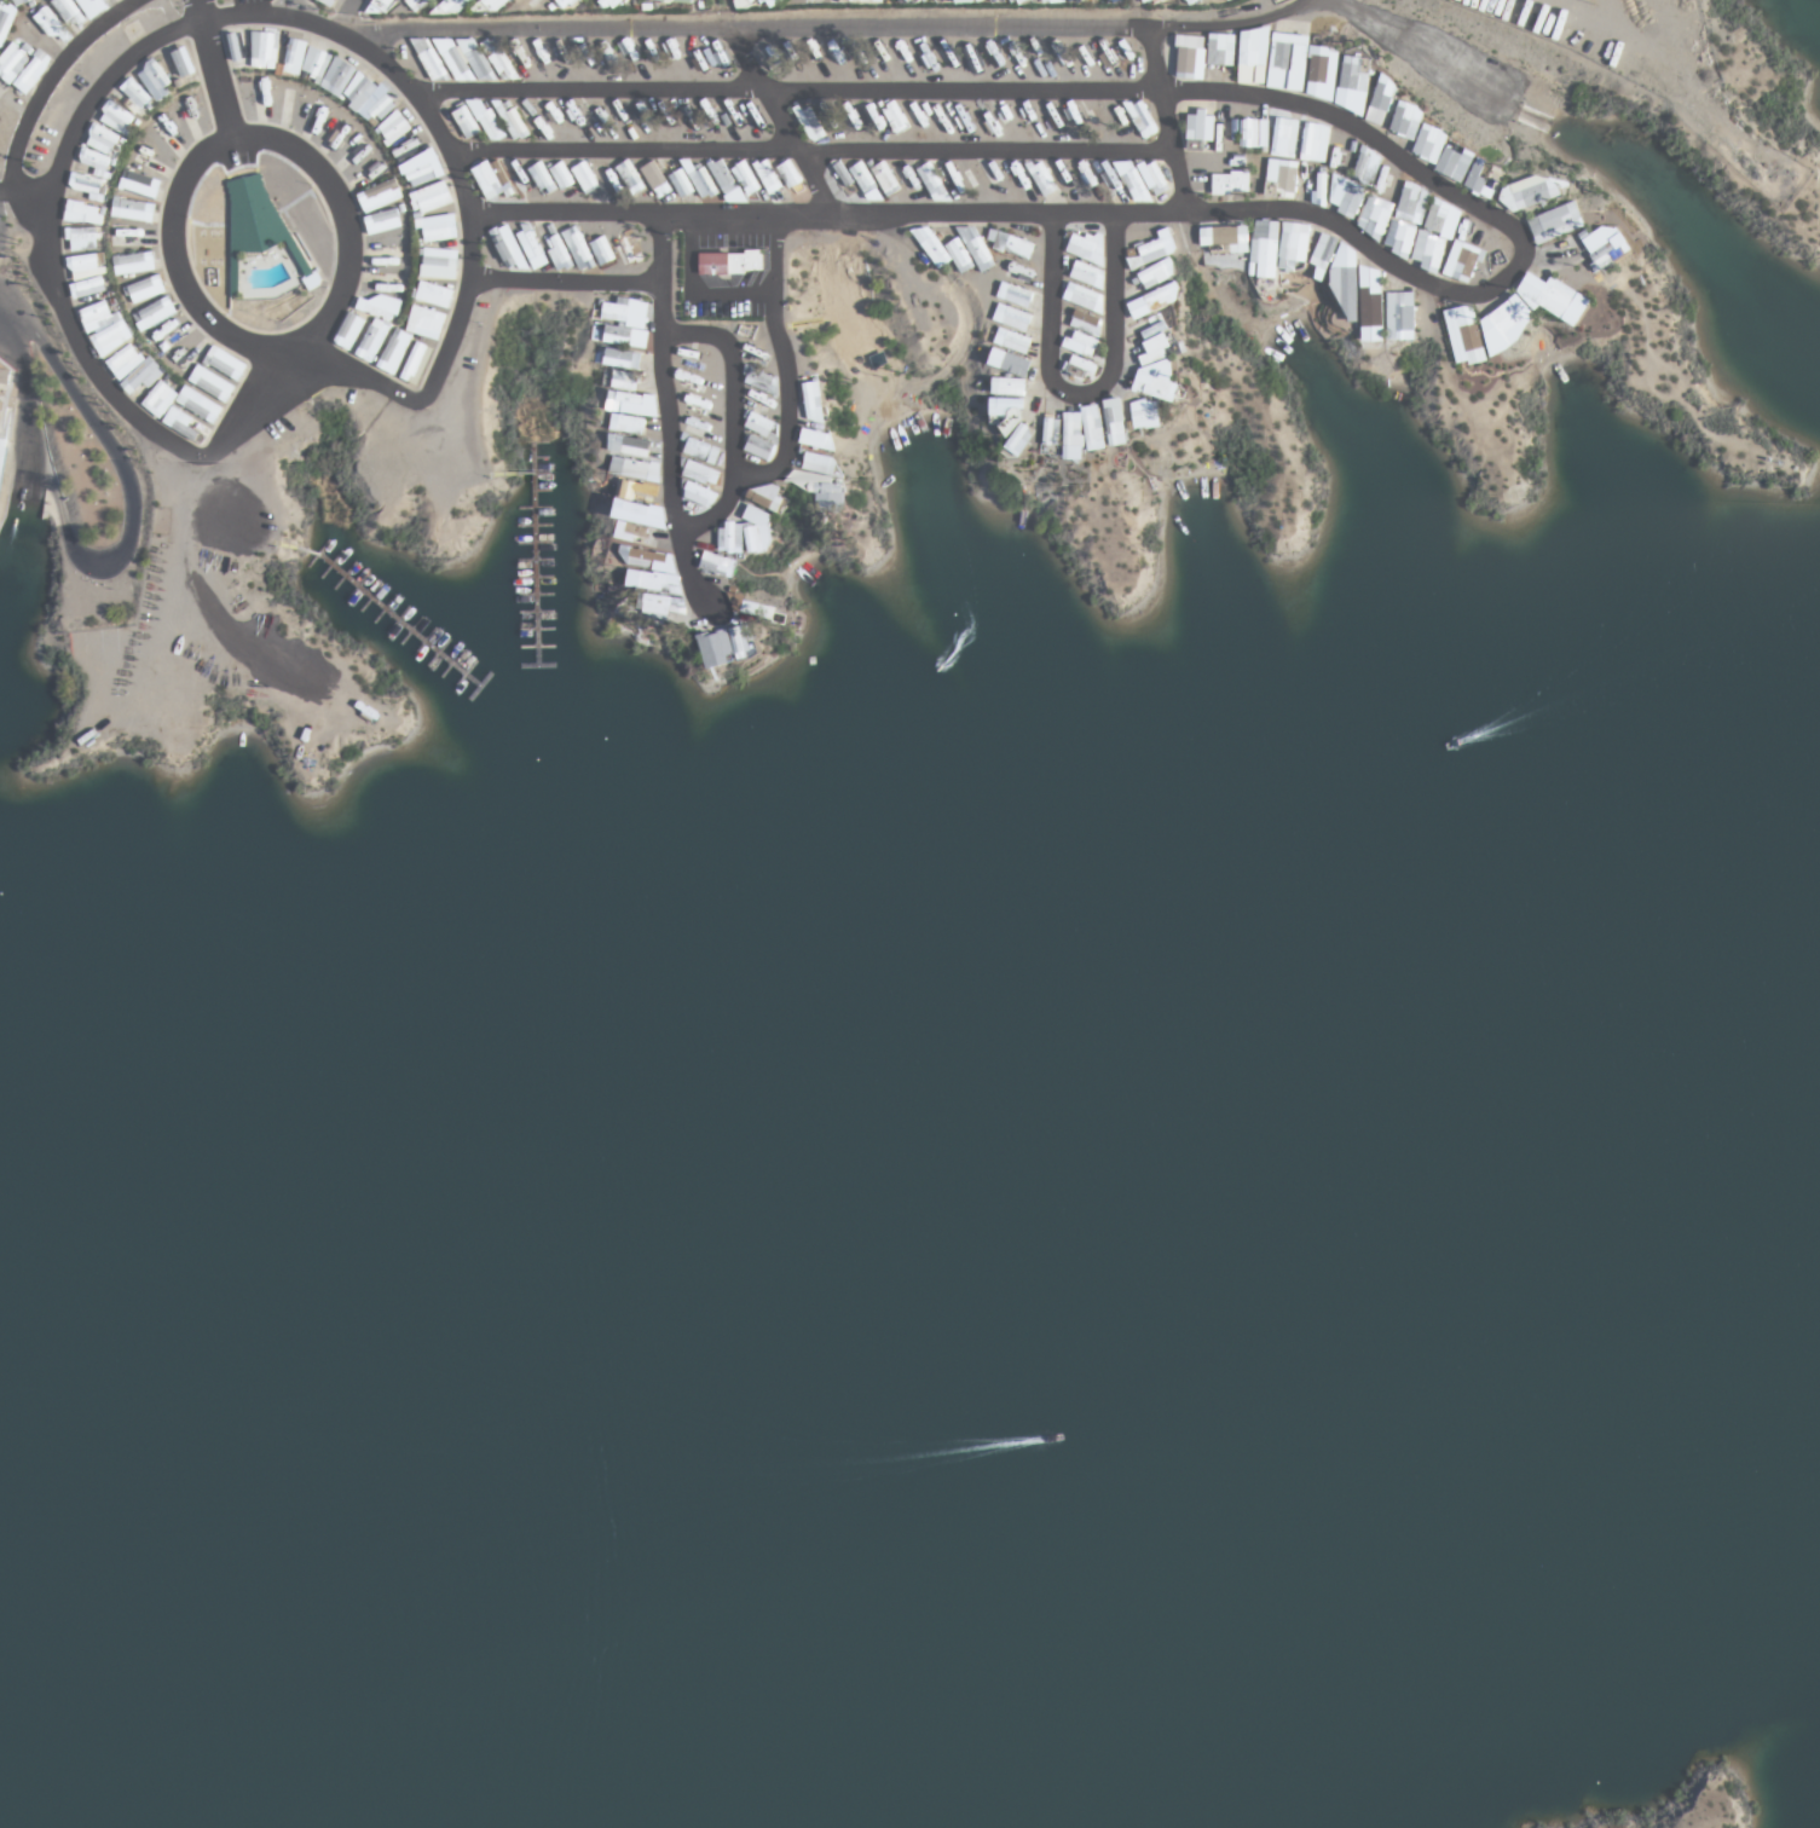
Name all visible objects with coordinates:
road: (201, 10)
road: (343, 17)
road: (200, 19)
road: (1226, 27)
road: (836, 28)
building: (1220, 50)
road: (1420, 56)
building: (1189, 57)
building: (1252, 57)
building: (1287, 62)
building: (1322, 73)
parking lot: (1452, 74)
building: (1353, 75)
road: (218, 79)
road: (786, 89)
road: (40, 96)
building: (1380, 100)
building: (1052, 115)
building: (895, 117)
building: (1142, 118)
building: (486, 120)
road: (781, 120)
building: (1405, 120)
building: (466, 122)
building: (809, 122)
building: (515, 125)
road: (1552, 126)
building: (1200, 127)
building: (393, 128)
building: (1254, 133)
building: (1284, 137)
building: (1315, 143)
road: (810, 150)
building: (1441, 154)
building: (1365, 166)
building: (93, 175)
building: (421, 175)
building: (562, 175)
building: (491, 177)
building: (608, 177)
building: (723, 177)
building: (767, 177)
building: (585, 178)
building: (630, 178)
building: (746, 178)
building: (885, 178)
building: (1281, 178)
building: (1483, 178)
building: (542, 179)
building: (655, 179)
building: (843, 179)
building: (1109, 179)
building: (866, 181)
building: (1143, 181)
building: (701, 183)
building: (932, 183)
building: (1231, 183)
building: (139, 184)
building: (681, 184)
building: (1321, 185)
road: (6, 191)
building: (1532, 192)
building: (377, 195)
building: (1346, 196)
building: (429, 198)
road: (342, 208)
building: (132, 209)
building: (82, 213)
road: (825, 213)
building: (1374, 216)
building: (382, 221)
building: (1555, 222)
building: (437, 227)
building: (258, 228)
building: (1421, 228)
road: (1519, 235)
building: (131, 236)
building: (1224, 237)
building: (81, 238)
building: (1011, 242)
building: (1605, 245)
building: (531, 247)
building: (629, 247)
building: (1086, 247)
building: (1264, 247)
building: (1294, 247)
building: (509, 248)
building: (578, 248)
building: (976, 248)
building: (1154, 249)
building: (601, 250)
building: (942, 250)
building: (1324, 250)
building: (556, 251)
road: (173, 258)
building: (1461, 261)
building: (133, 262)
building: (439, 264)
building: (730, 264)
building: (86, 265)
road: (295, 272)
building: (1156, 273)
building: (1087, 274)
road: (564, 279)
building: (1346, 280)
building: (91, 287)
building: (144, 289)
building: (1015, 294)
building: (432, 296)
building: (1084, 297)
building: (1154, 300)
building: (1370, 305)
building: (377, 308)
building: (617, 310)
building: (154, 313)
building: (1400, 316)
building: (1011, 317)
building: (1509, 318)
building: (1085, 322)
building: (424, 324)
building: (105, 328)
building: (348, 332)
building: (625, 336)
building: (1157, 337)
building: (372, 341)
building: (1012, 341)
road: (289, 342)
building: (1080, 343)
building: (394, 352)
building: (121, 358)
building: (697, 361)
road: (786, 361)
building: (225, 364)
building: (416, 364)
building: (1012, 364)
building: (1081, 369)
road: (734, 372)
building: (141, 376)
building: (625, 380)
building: (759, 382)
building: (694, 383)
building: (210, 386)
building: (1007, 386)
building: (1157, 388)
road: (1079, 393)
road: (23, 395)
building: (158, 399)
building: (813, 401)
building: (625, 403)
road: (279, 405)
building: (198, 406)
building: (1006, 407)
building: (1145, 413)
road: (671, 416)
building: (1114, 421)
building: (628, 424)
building: (759, 424)
building: (185, 427)
building: (1082, 430)
building: (1051, 435)
building: (816, 439)
building: (1018, 439)
building: (631, 446)
building: (759, 449)
building: (1, 450)
building: (701, 451)
building: (820, 463)
building: (630, 468)
pier: (513, 473)
building: (700, 473)
building: (820, 488)
building: (636, 491)
building: (699, 494)
building: (765, 497)
road: (133, 507)
road: (717, 511)
building: (758, 530)
building: (632, 533)
building: (730, 538)
pier: (533, 554)
building: (640, 559)
building: (718, 565)
building: (655, 582)
building: (657, 603)
pier: (389, 613)
building: (724, 646)
pier: (542, 665)
pier: (479, 687)
river: (912, 1327)

